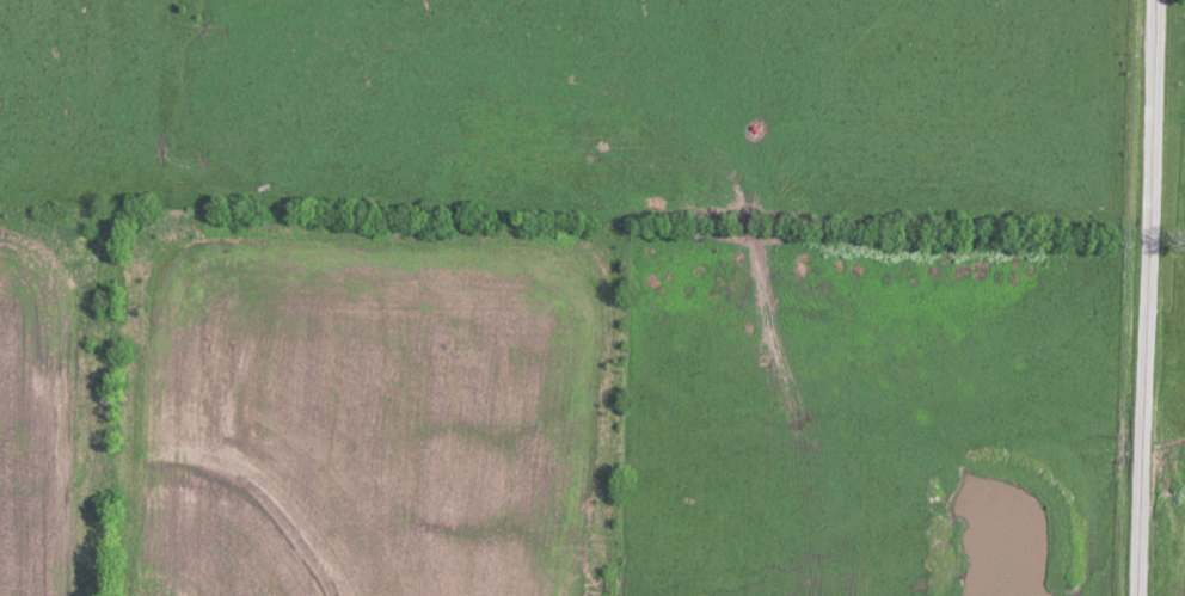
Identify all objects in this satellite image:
road: (1152, 297)

